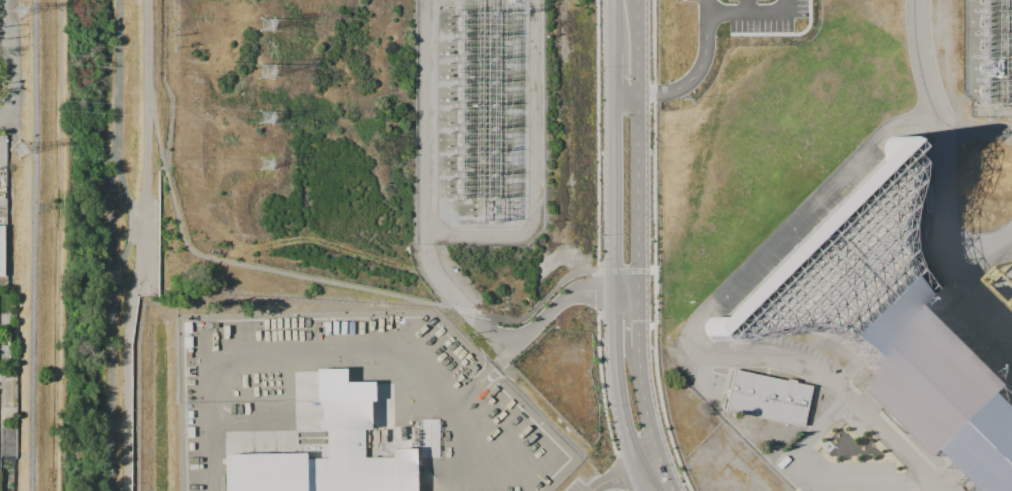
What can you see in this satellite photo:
road: (706, 7)
road: (746, 7)
power tower: (24, 13)
parking lot: (753, 13)
road: (752, 14)
power tower: (267, 23)
road: (782, 33)
power substation: (990, 58)
power tower: (268, 70)
road: (685, 82)
road: (148, 84)
power tower: (265, 117)
power substation: (354, 129)
road: (945, 140)
power tower: (16, 153)
power tower: (268, 165)
road: (30, 245)
building: (1, 246)
road: (612, 247)
road: (638, 248)
road: (653, 248)
road: (992, 255)
road: (431, 262)
road: (604, 270)
road: (346, 286)
building: (884, 318)
road: (697, 319)
road: (324, 349)
road: (481, 374)
building: (770, 396)
building: (326, 449)
road: (821, 468)
road: (627, 474)
parking lot: (574, 485)

